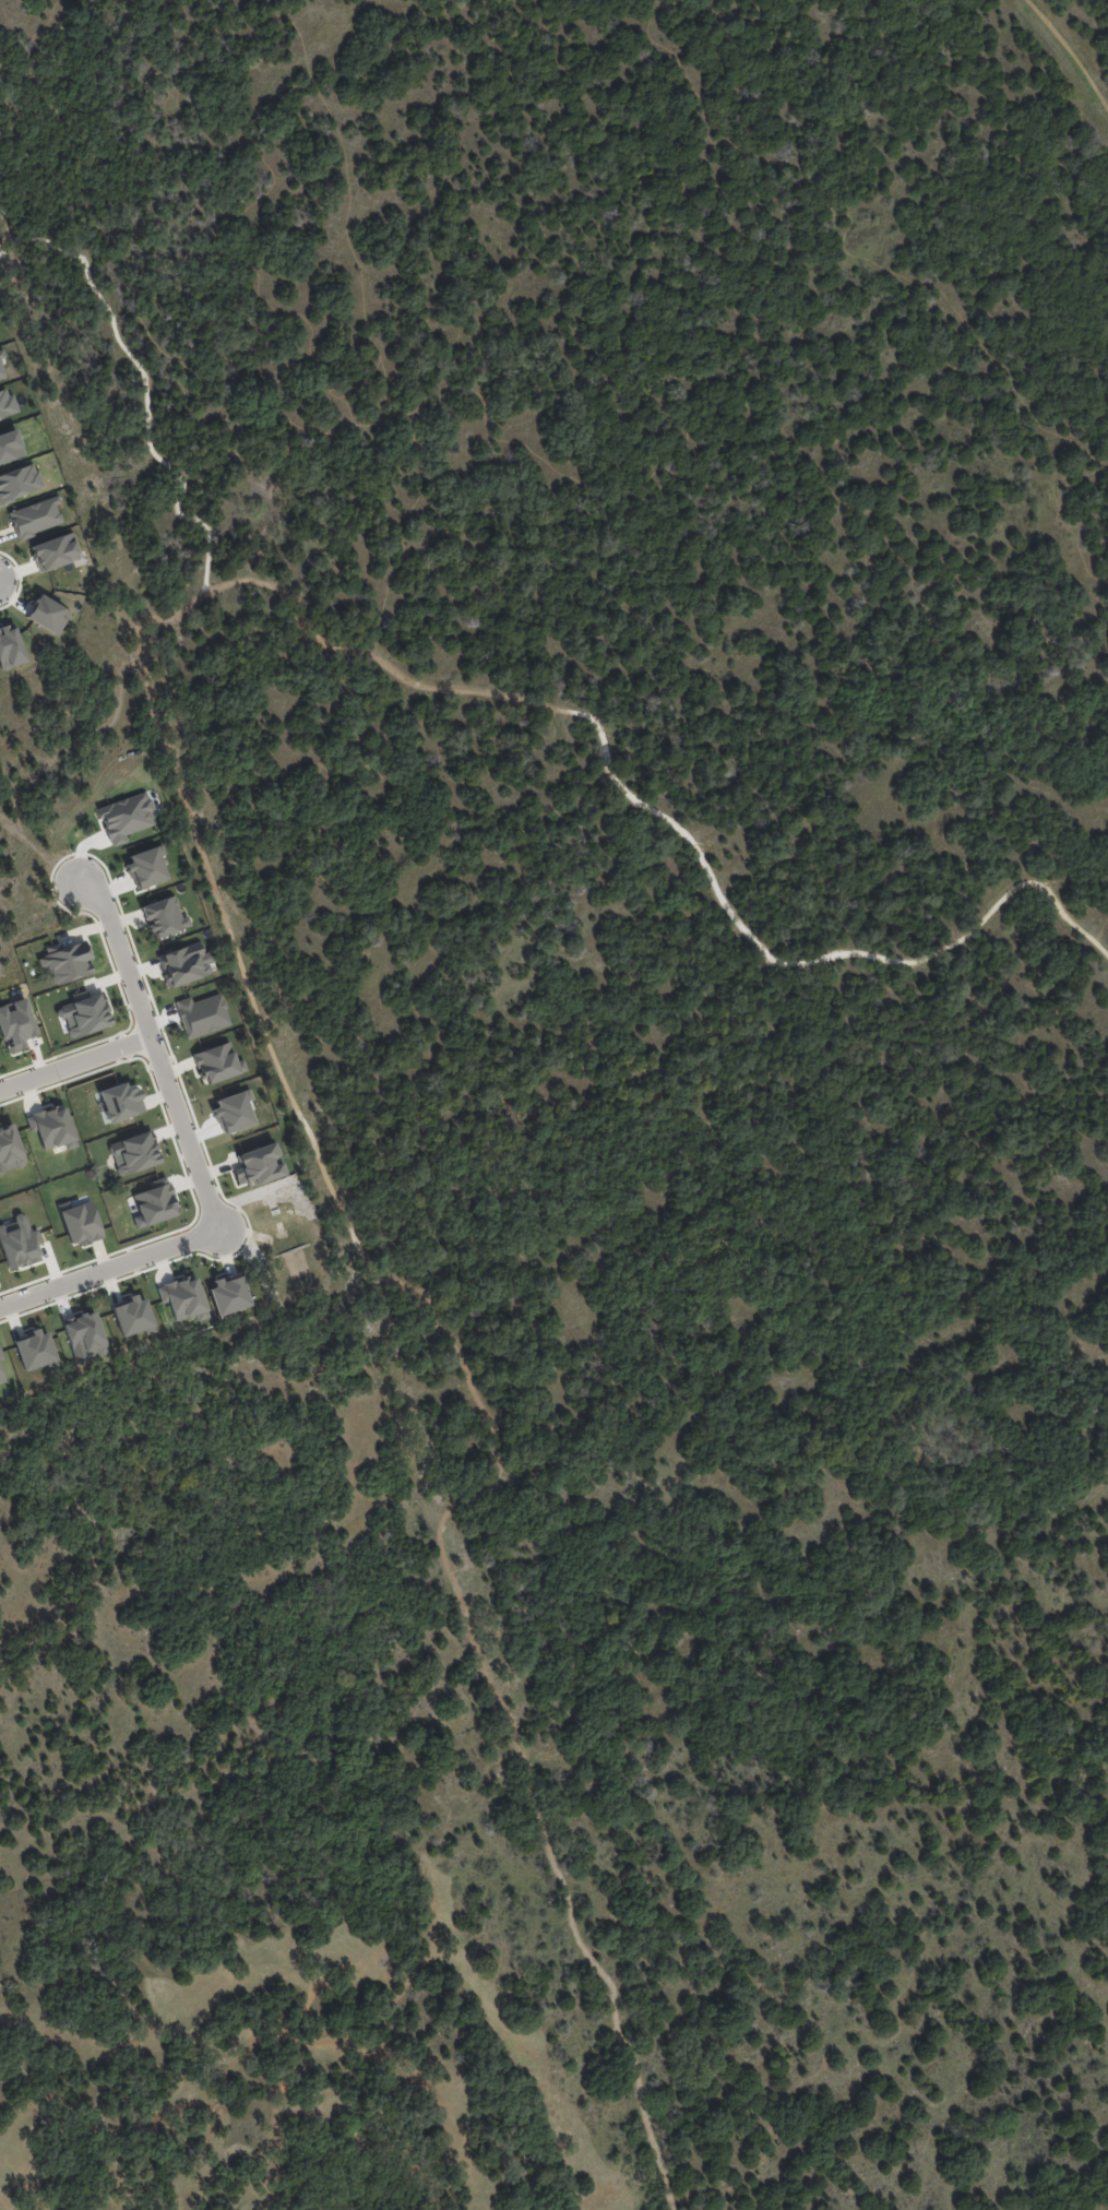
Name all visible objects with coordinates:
road: (719, 0)
road: (36, 52)
road: (1068, 56)
road: (851, 248)
road: (369, 325)
building: (1, 354)
building: (1, 372)
road: (228, 387)
road: (145, 393)
building: (5, 403)
building: (10, 445)
road: (60, 451)
building: (19, 482)
building: (35, 516)
building: (55, 551)
building: (47, 614)
building: (10, 646)
building: (126, 817)
building: (147, 866)
road: (212, 869)
building: (163, 916)
building: (65, 962)
building: (83, 1014)
building: (201, 1014)
building: (15, 1025)
road: (154, 1053)
park: (627, 1058)
road: (74, 1060)
building: (216, 1062)
building: (120, 1101)
building: (231, 1112)
building: (51, 1127)
building: (9, 1148)
building: (133, 1152)
building: (257, 1165)
building: (154, 1203)
building: (80, 1223)
building: (19, 1241)
road: (108, 1266)
building: (227, 1295)
building: (182, 1297)
building: (132, 1316)
building: (84, 1336)
building: (33, 1350)
building: (0, 1355)
building: (1, 1377)
road: (1012, 1898)
road: (707, 2185)

